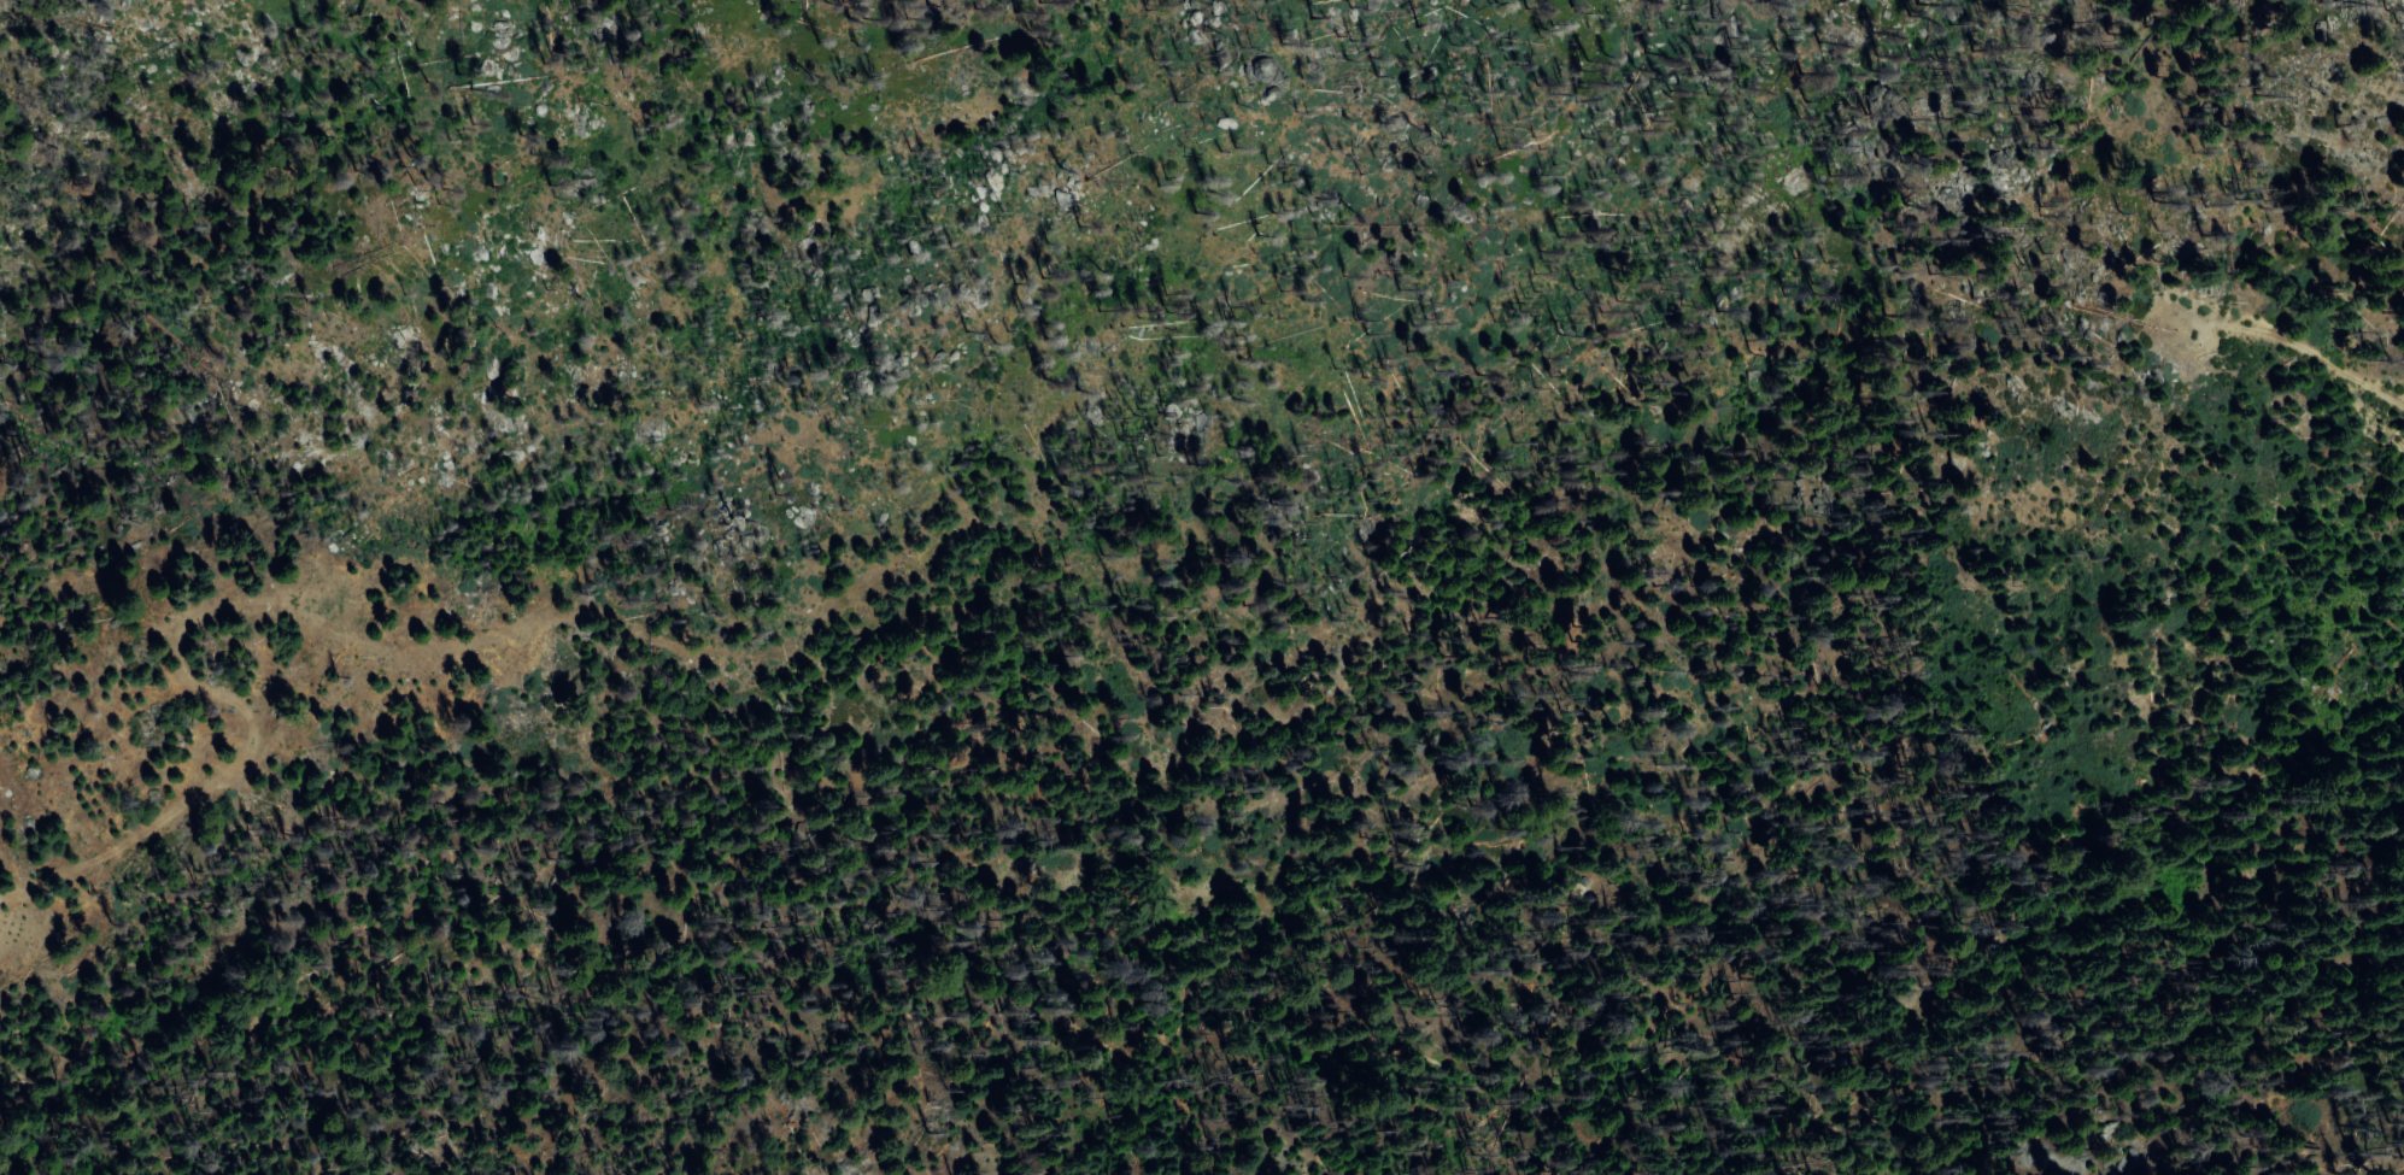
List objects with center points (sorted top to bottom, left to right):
road: (2304, 360)

